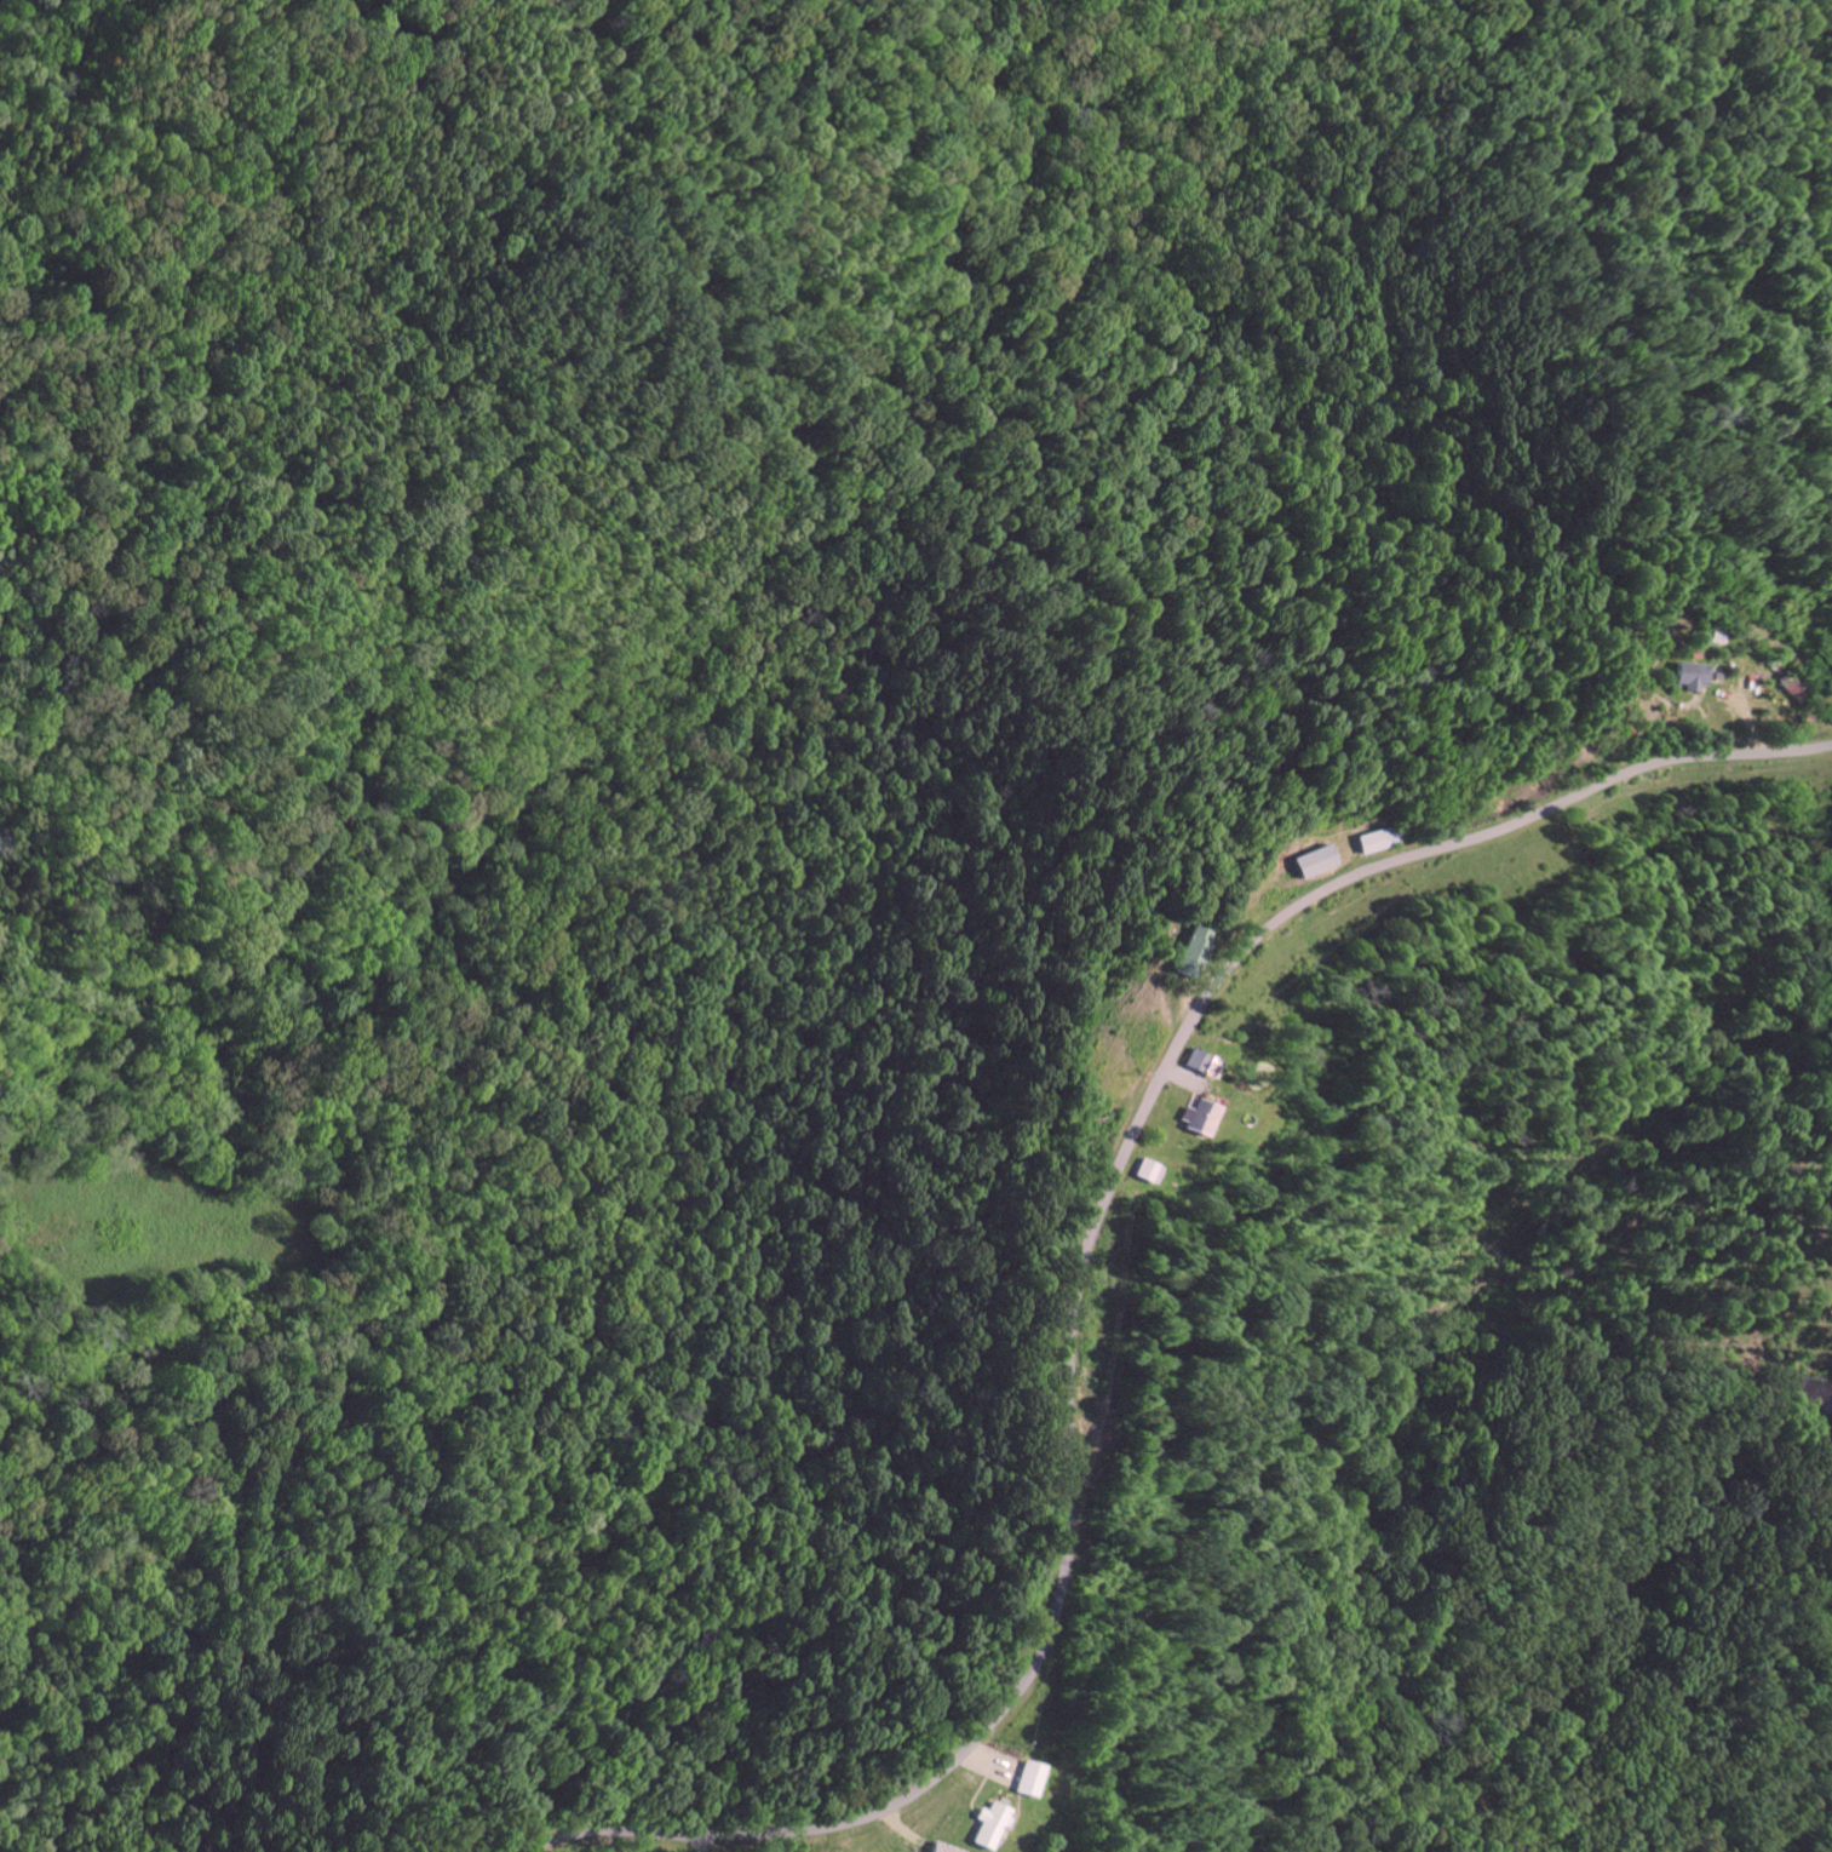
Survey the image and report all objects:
building: (1683, 677)
building: (1372, 841)
building: (1308, 862)
building: (1188, 951)
building: (1195, 1065)
building: (1191, 1118)
road: (1085, 1255)
building: (1023, 1779)
building: (986, 1825)

